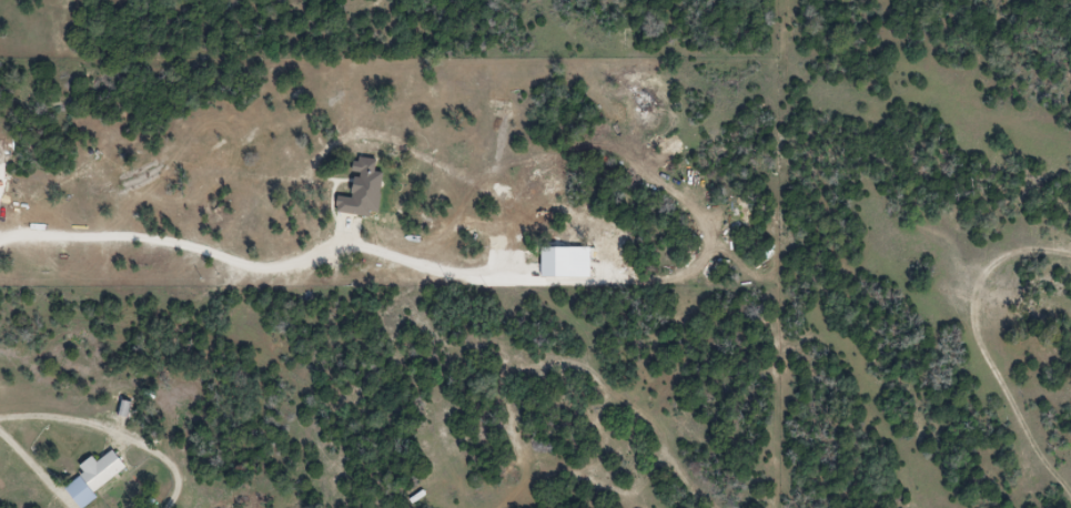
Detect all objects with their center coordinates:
road: (173, 238)
road: (113, 436)
road: (41, 466)
building: (92, 477)

